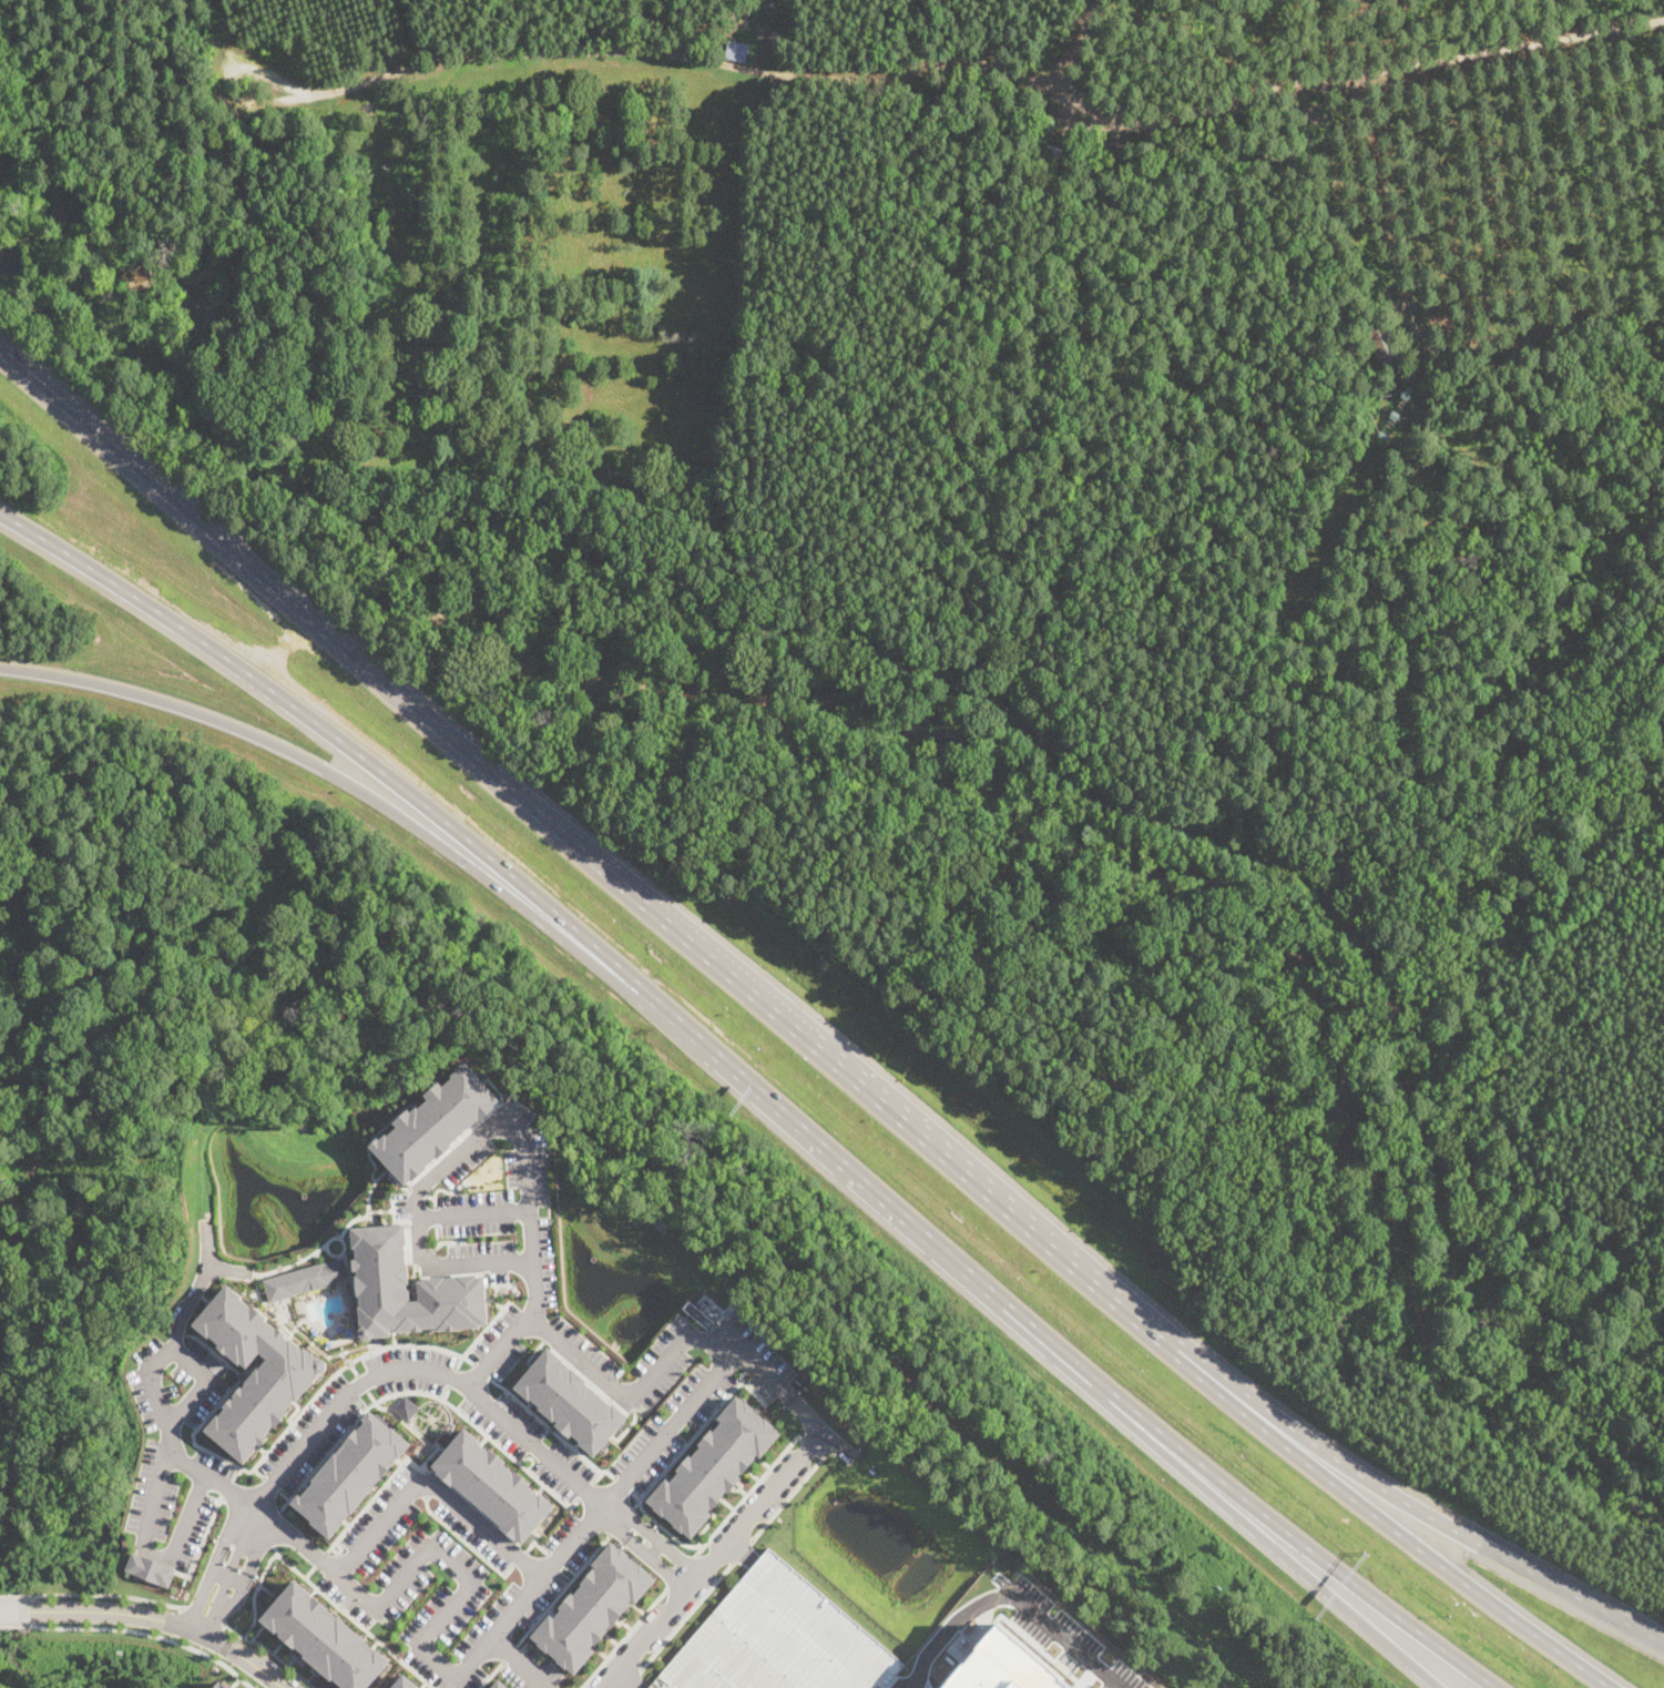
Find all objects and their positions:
road: (1548, 19)
road: (215, 32)
road: (1073, 48)
building: (735, 51)
road: (984, 64)
road: (212, 77)
road: (22, 110)
road: (149, 133)
building: (1052, 153)
building: (1086, 161)
road: (1375, 237)
road: (310, 315)
building: (1384, 344)
building: (1406, 394)
road: (1040, 407)
building: (1395, 415)
building: (1384, 435)
road: (235, 560)
road: (330, 732)
road: (341, 777)
road: (1205, 832)
road: (823, 1059)
building: (436, 1122)
road: (474, 1212)
road: (419, 1213)
road: (933, 1241)
building: (306, 1279)
building: (451, 1281)
road: (481, 1333)
road: (500, 1349)
road: (594, 1369)
road: (481, 1370)
building: (256, 1371)
road: (440, 1373)
road: (451, 1377)
road: (205, 1384)
road: (427, 1392)
road: (445, 1392)
building: (572, 1401)
road: (156, 1405)
building: (406, 1407)
road: (807, 1412)
road: (545, 1424)
road: (672, 1428)
road: (691, 1436)
road: (811, 1446)
road: (268, 1448)
building: (714, 1466)
road: (604, 1471)
building: (351, 1473)
road: (430, 1485)
building: (493, 1485)
road: (623, 1485)
road: (381, 1486)
road: (588, 1489)
road: (748, 1492)
road: (1646, 1493)
road: (635, 1496)
road: (787, 1496)
road: (757, 1503)
road: (1413, 1505)
road: (621, 1521)
road: (1390, 1526)
road: (274, 1527)
road: (665, 1531)
road: (239, 1540)
road: (742, 1552)
road: (152, 1553)
road: (666, 1557)
road: (320, 1558)
building: (151, 1569)
road: (309, 1572)
road: (682, 1572)
road: (255, 1589)
road: (562, 1589)
road: (1331, 1592)
road: (1362, 1593)
road: (214, 1594)
road: (109, 1595)
road: (17, 1596)
road: (1011, 1600)
building: (594, 1607)
road: (448, 1609)
road: (16, 1610)
road: (205, 1614)
road: (687, 1616)
road: (166, 1620)
road: (355, 1620)
road: (16, 1625)
road: (644, 1633)
road: (149, 1634)
building: (325, 1638)
road: (624, 1638)
building: (778, 1639)
parking garage: (778, 1639)
road: (269, 1651)
road: (509, 1653)
road: (522, 1662)
building: (1004, 1666)
road: (490, 1674)
road: (630, 1677)
road: (633, 1678)
building: (406, 1682)
building: (500, 1684)
building: (224, 1685)

